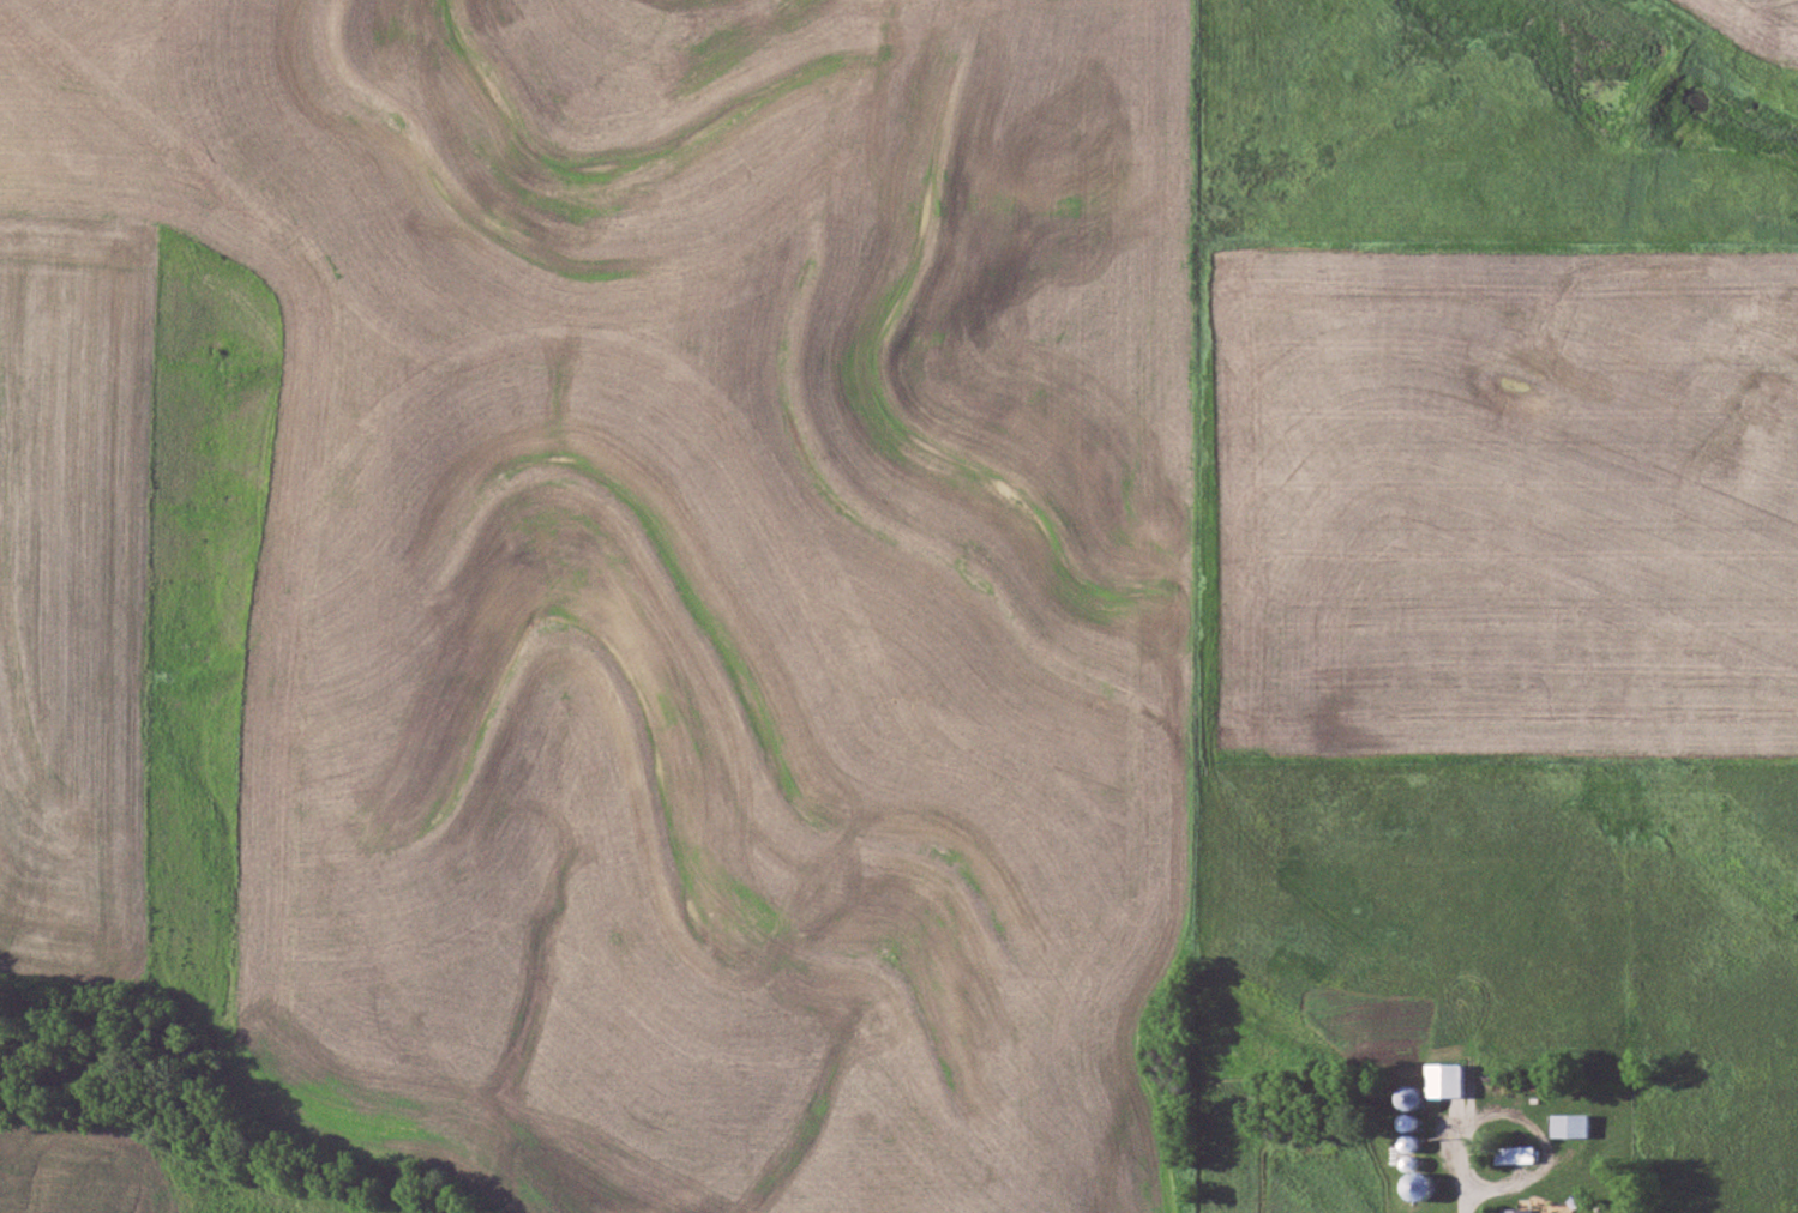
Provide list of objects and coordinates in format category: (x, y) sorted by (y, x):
building: (1436, 1082)
building: (1412, 1118)
building: (1569, 1122)
building: (1520, 1151)
road: (1497, 1181)
building: (1519, 1208)

